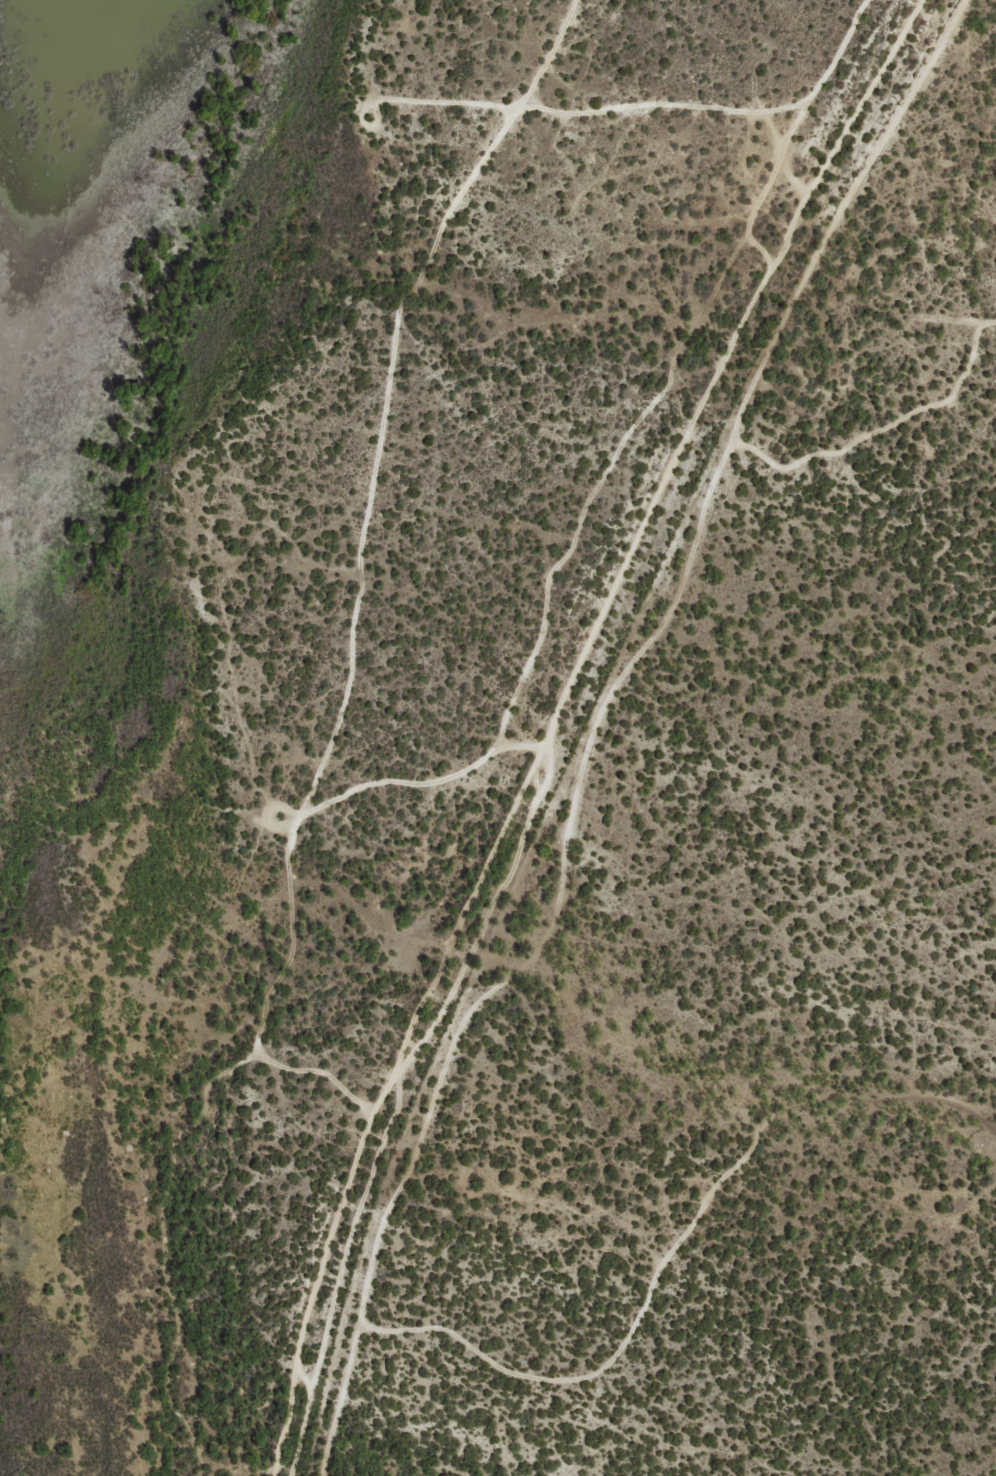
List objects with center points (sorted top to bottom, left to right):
road: (596, 706)
railway: (557, 721)

